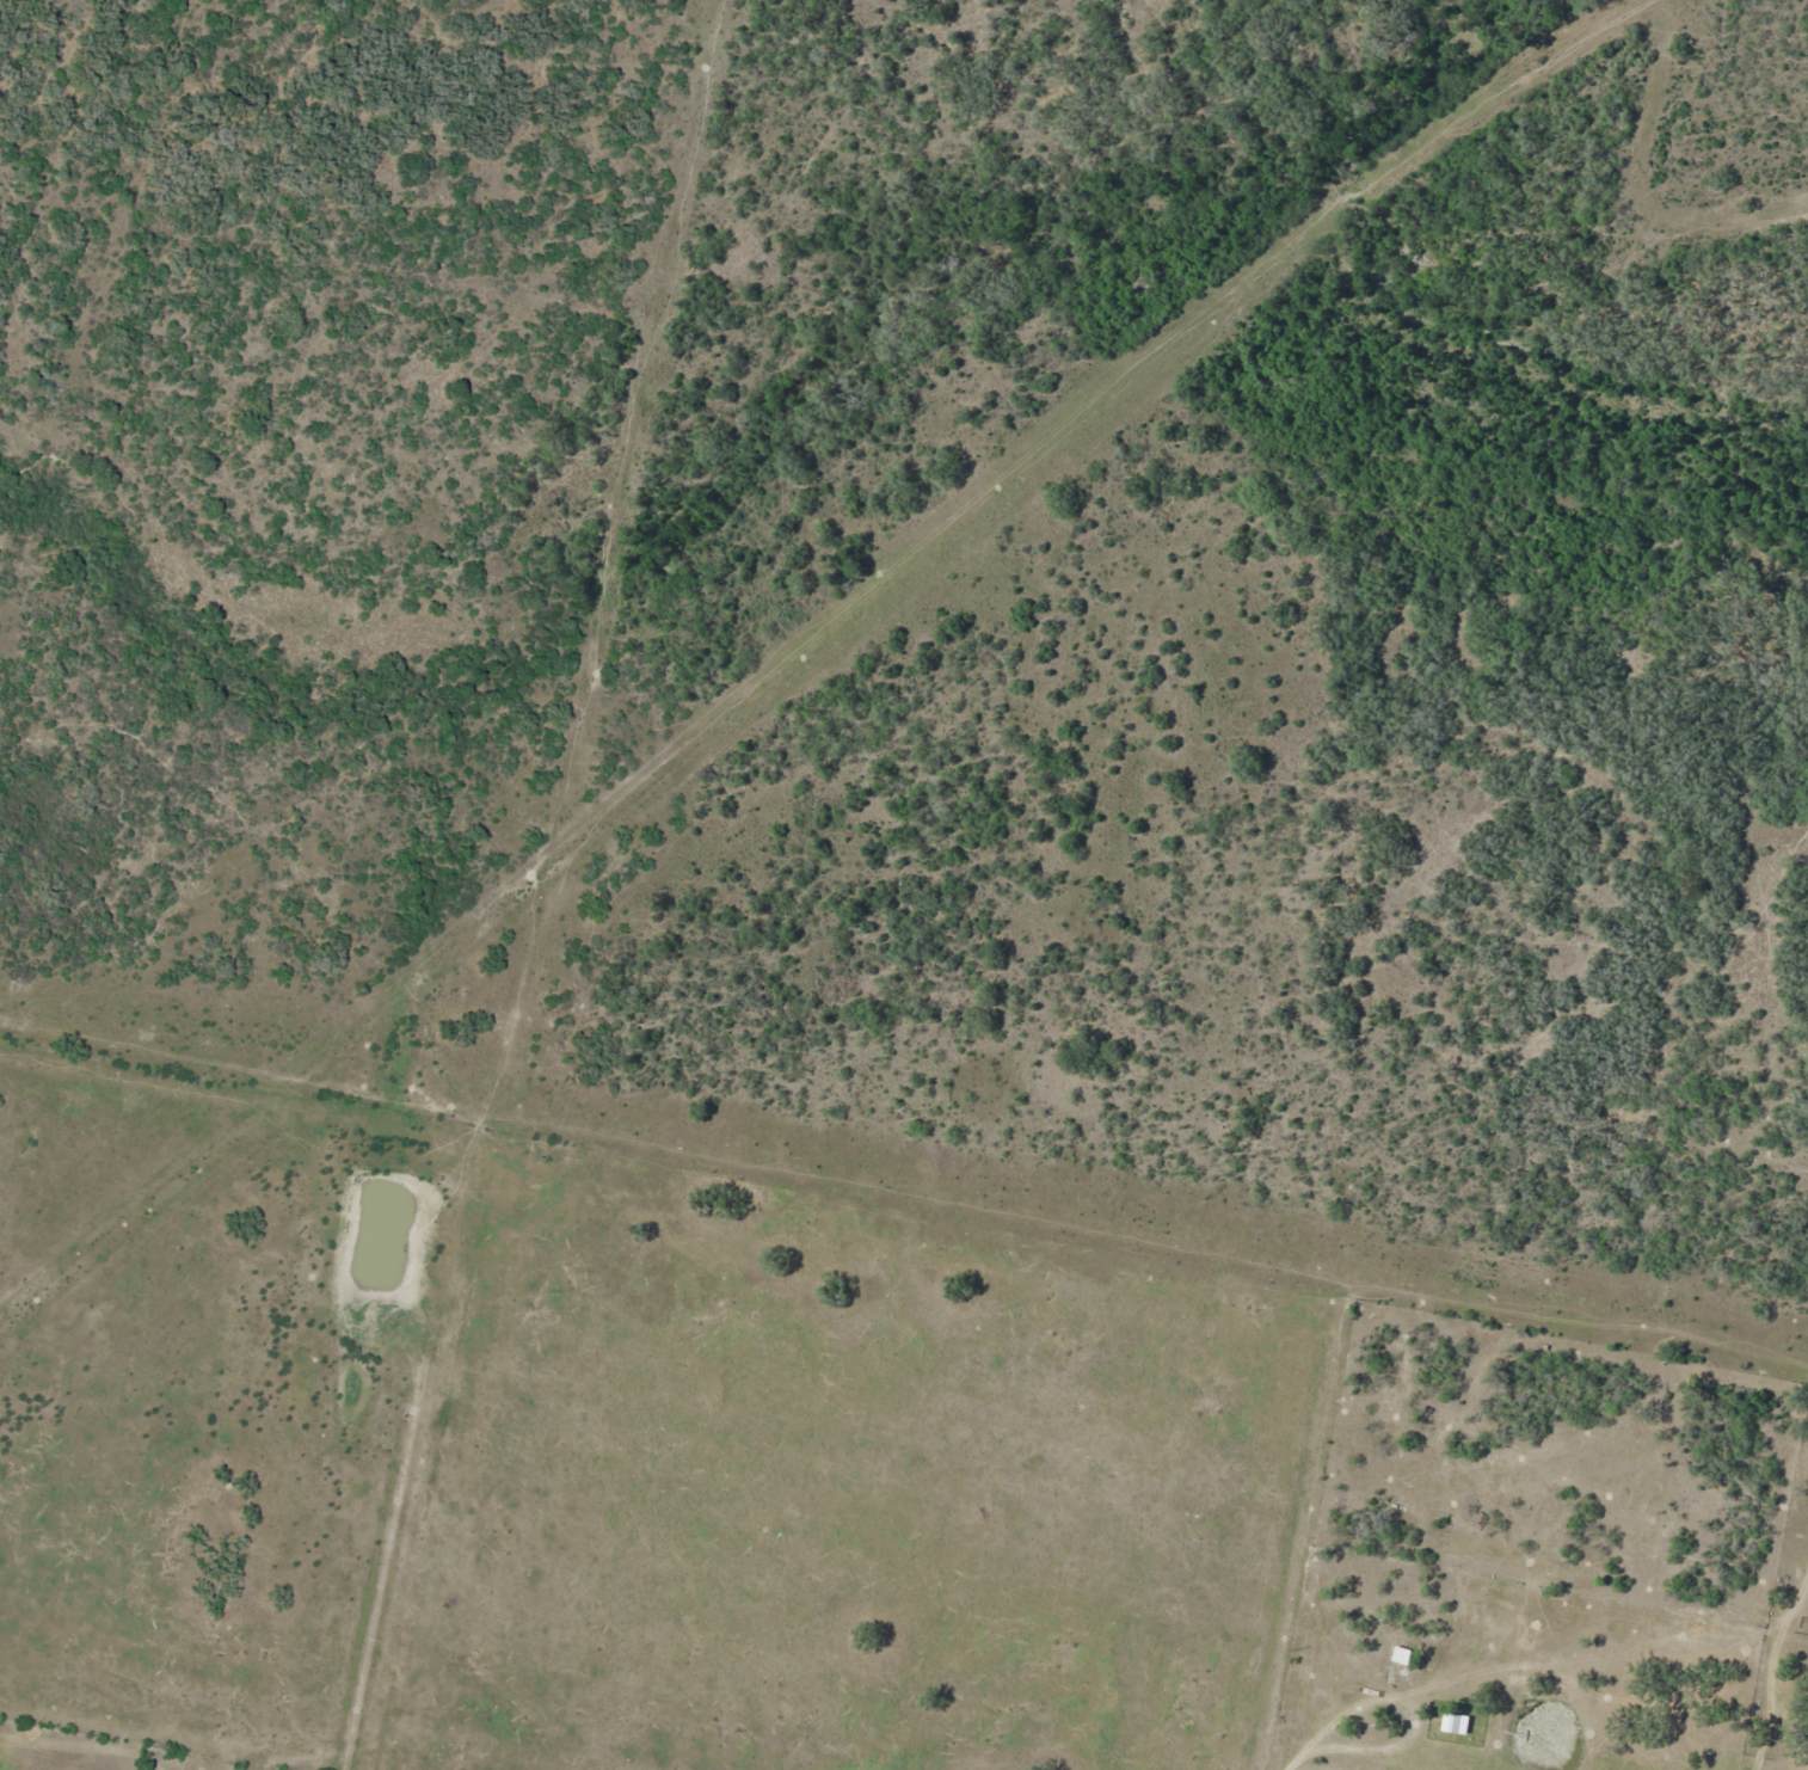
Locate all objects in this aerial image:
building: (1401, 1658)
building: (1452, 1723)

